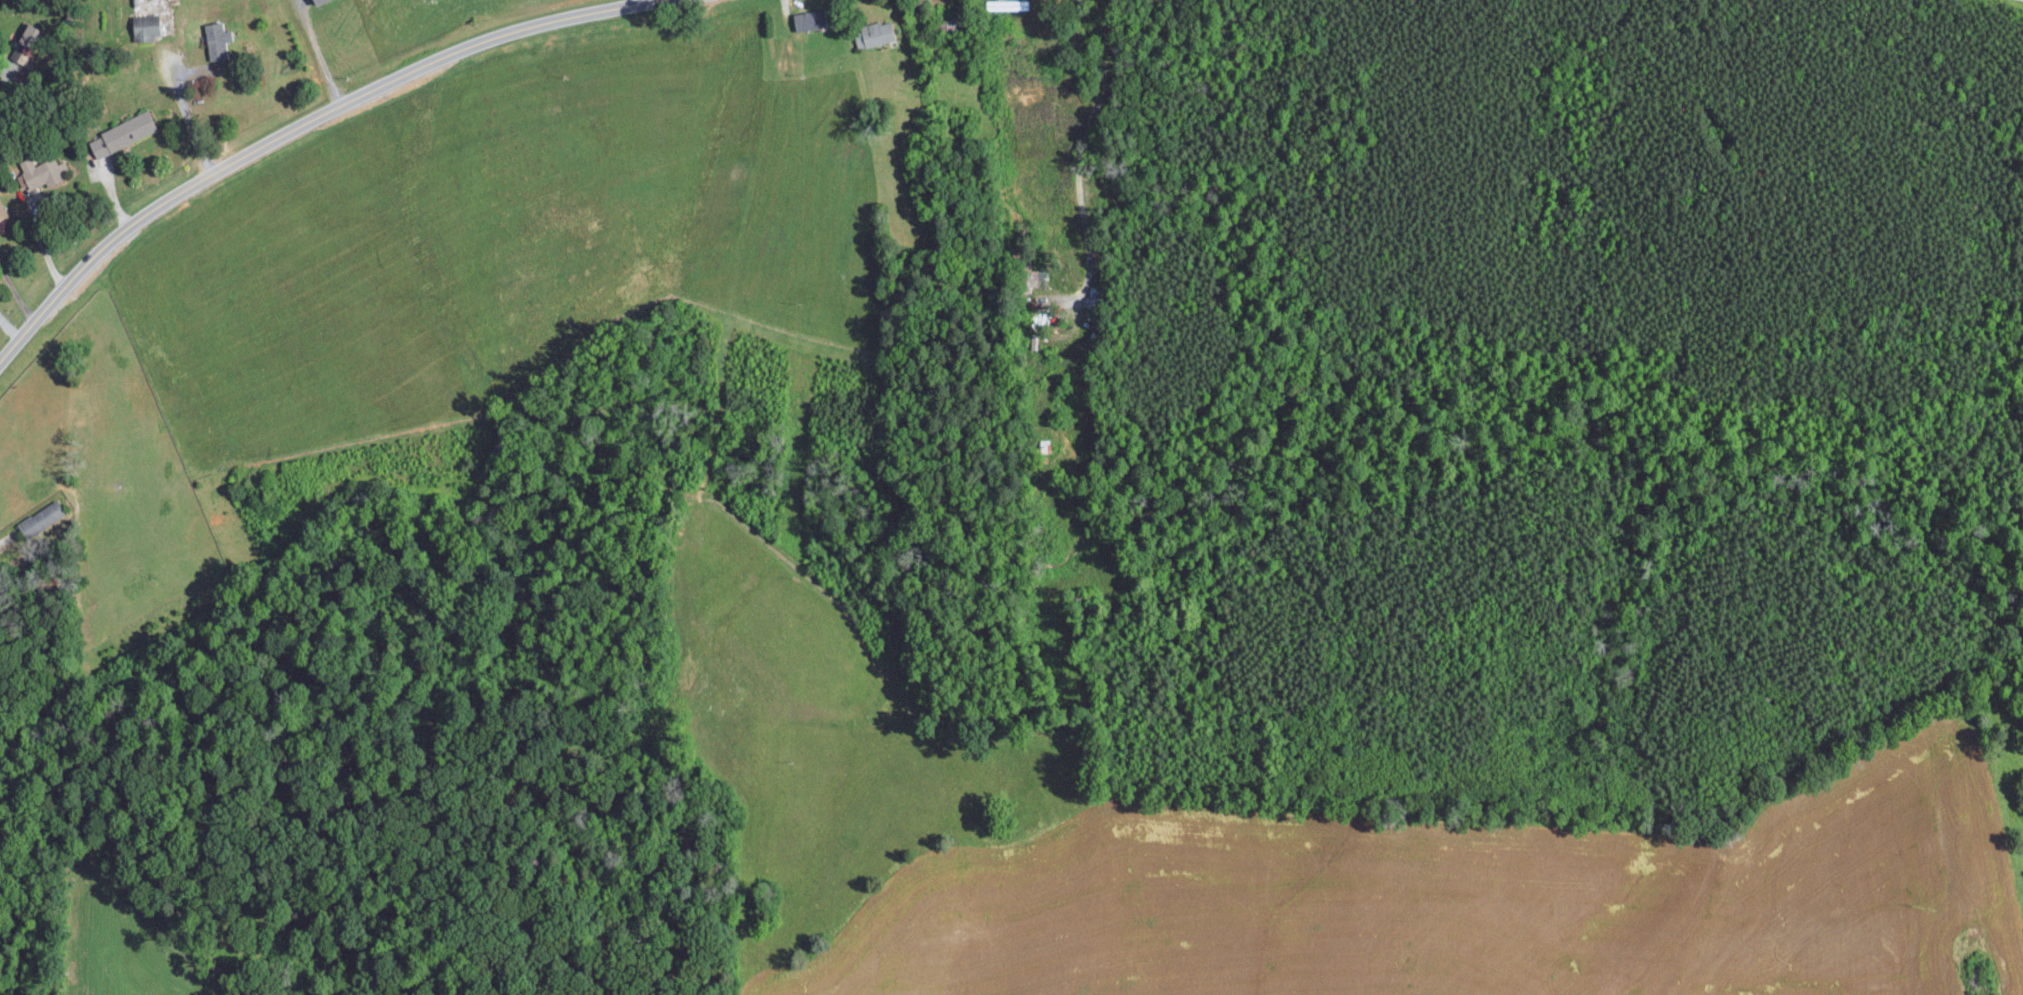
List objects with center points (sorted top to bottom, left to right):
building: (802, 19)
building: (145, 26)
building: (26, 33)
building: (873, 33)
building: (216, 40)
road: (318, 55)
road: (3, 71)
road: (188, 116)
road: (295, 126)
building: (121, 133)
building: (40, 171)
building: (2, 211)
road: (44, 251)
building: (40, 518)

